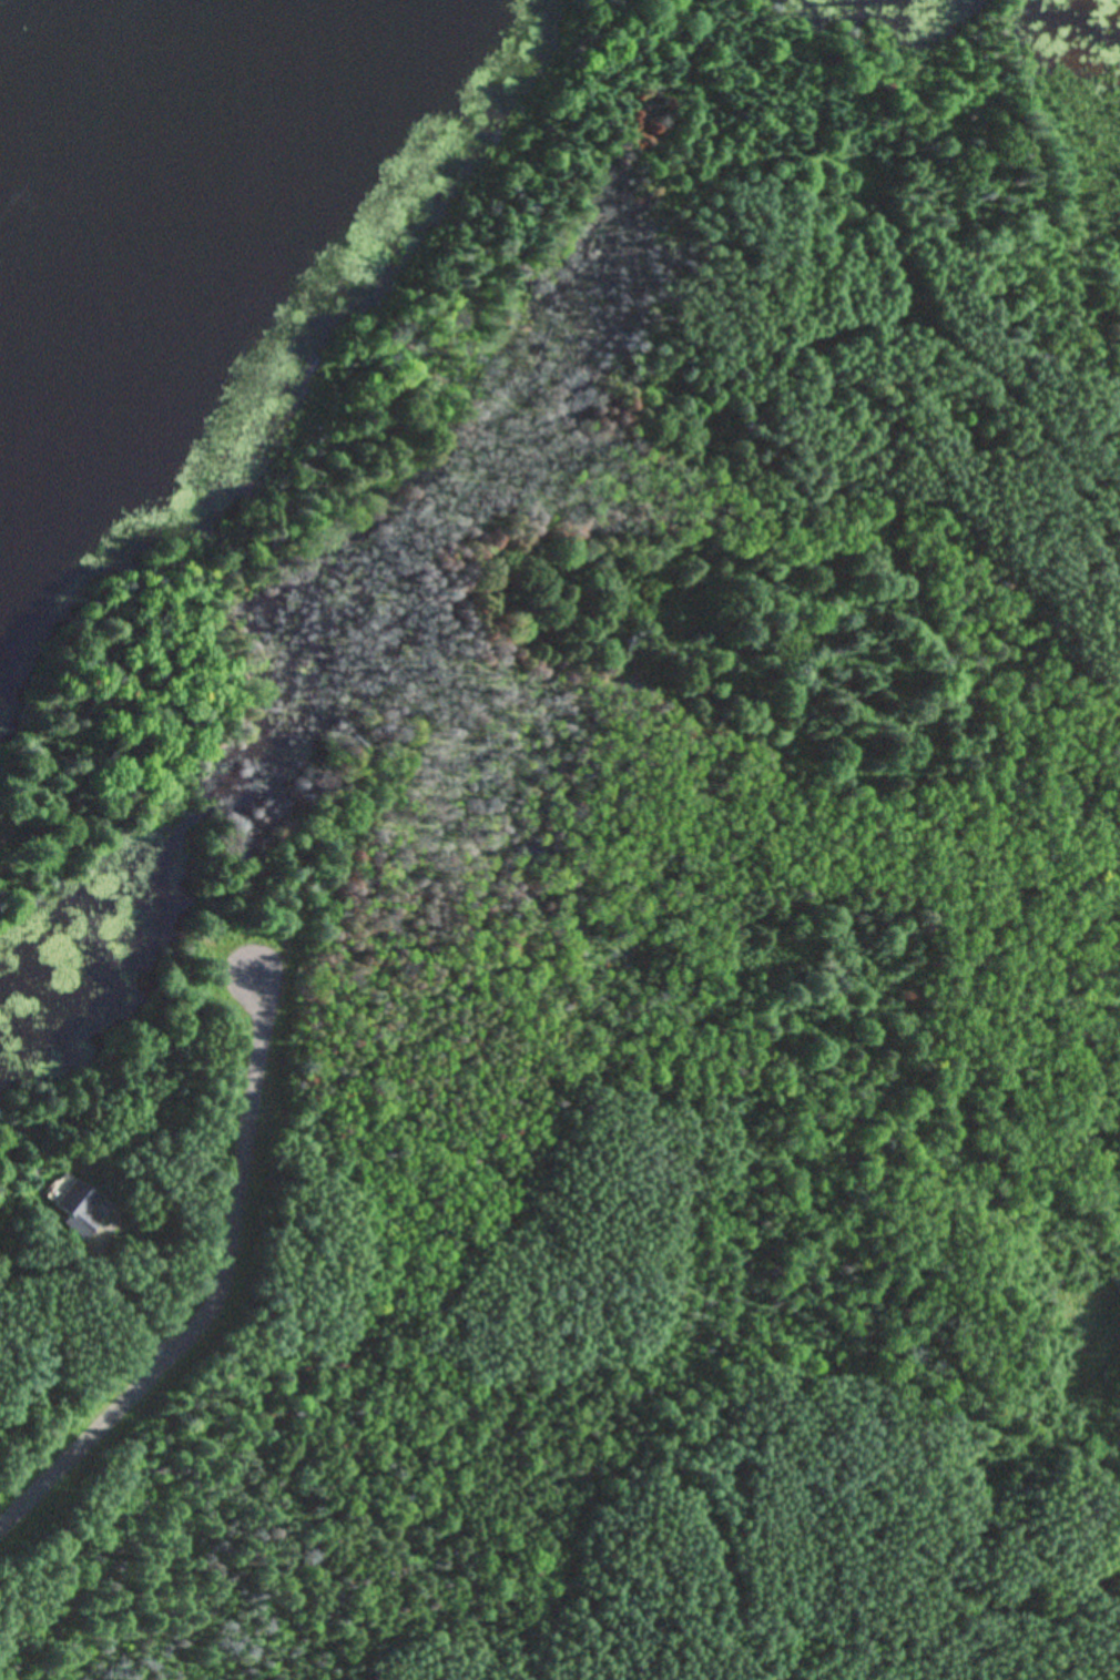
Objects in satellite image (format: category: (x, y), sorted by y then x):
river: (142, 185)
building: (77, 1208)
road: (215, 1296)

